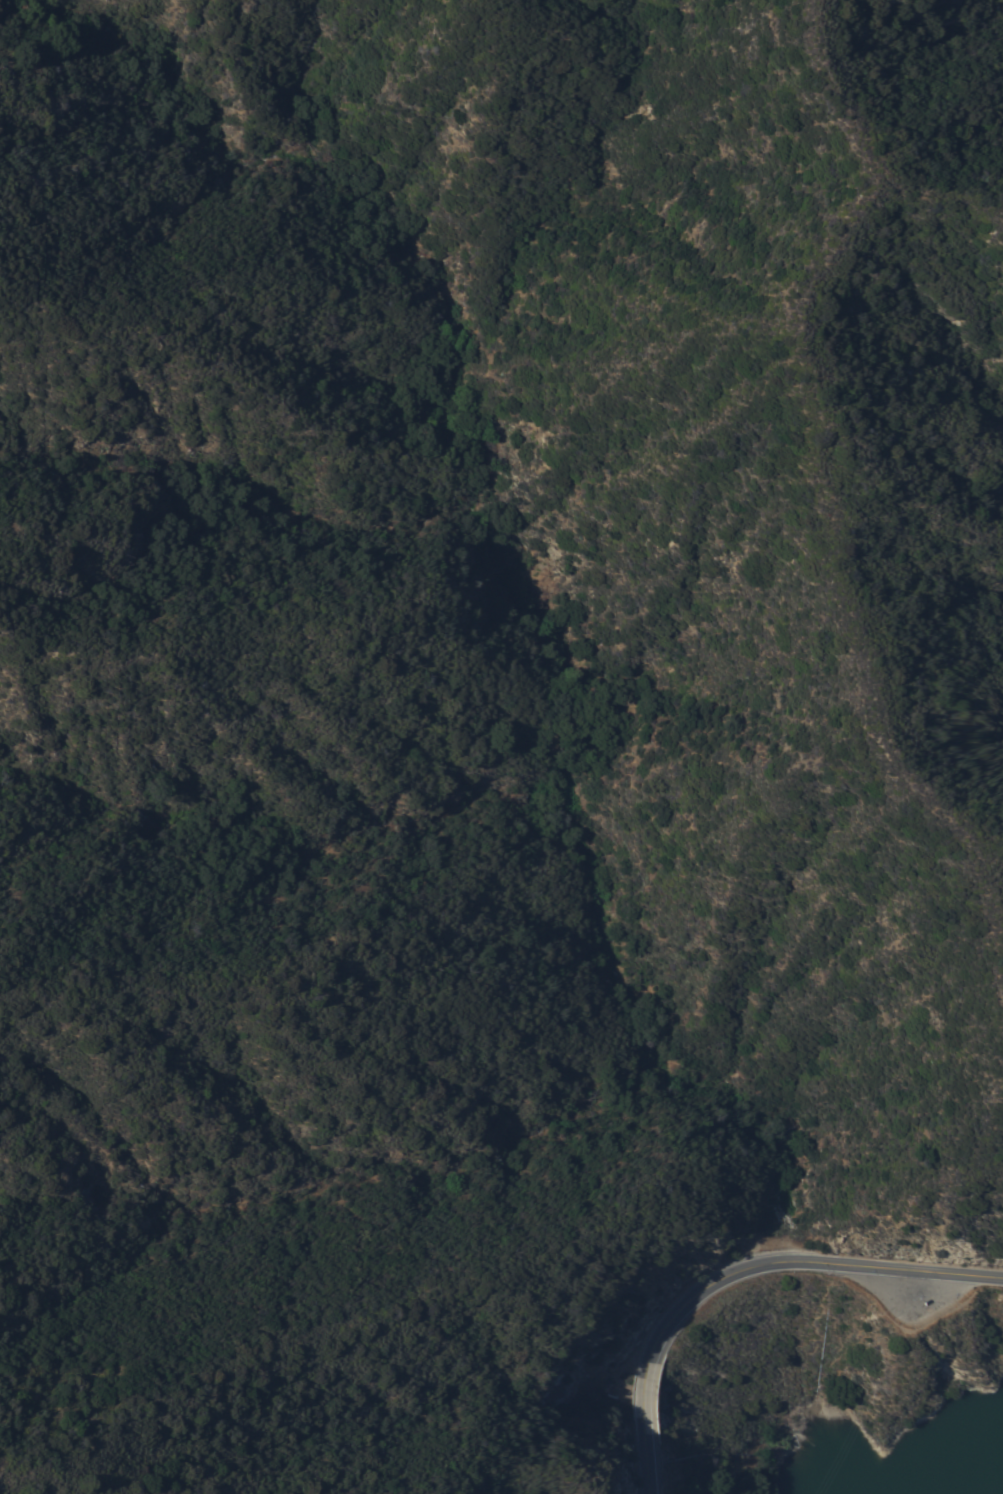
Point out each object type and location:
road: (794, 1261)
parking lot: (916, 1297)
road: (637, 1399)
road: (638, 1457)

